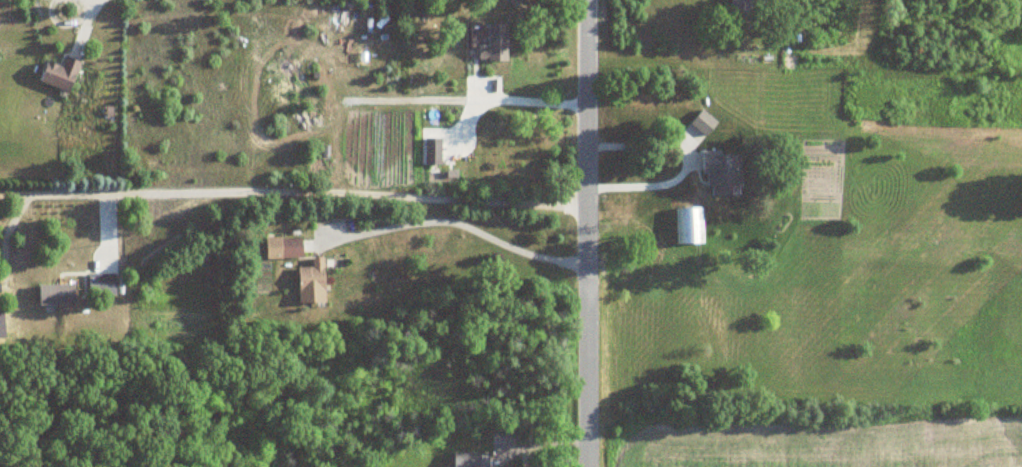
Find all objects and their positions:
building: (742, 14)
road: (80, 24)
building: (495, 43)
building: (61, 73)
road: (532, 105)
building: (642, 109)
building: (704, 122)
building: (433, 151)
road: (684, 157)
road: (293, 193)
road: (471, 226)
building: (690, 226)
road: (587, 233)
building: (284, 248)
building: (313, 282)
building: (102, 284)
building: (57, 294)
road: (549, 441)
building: (479, 460)

